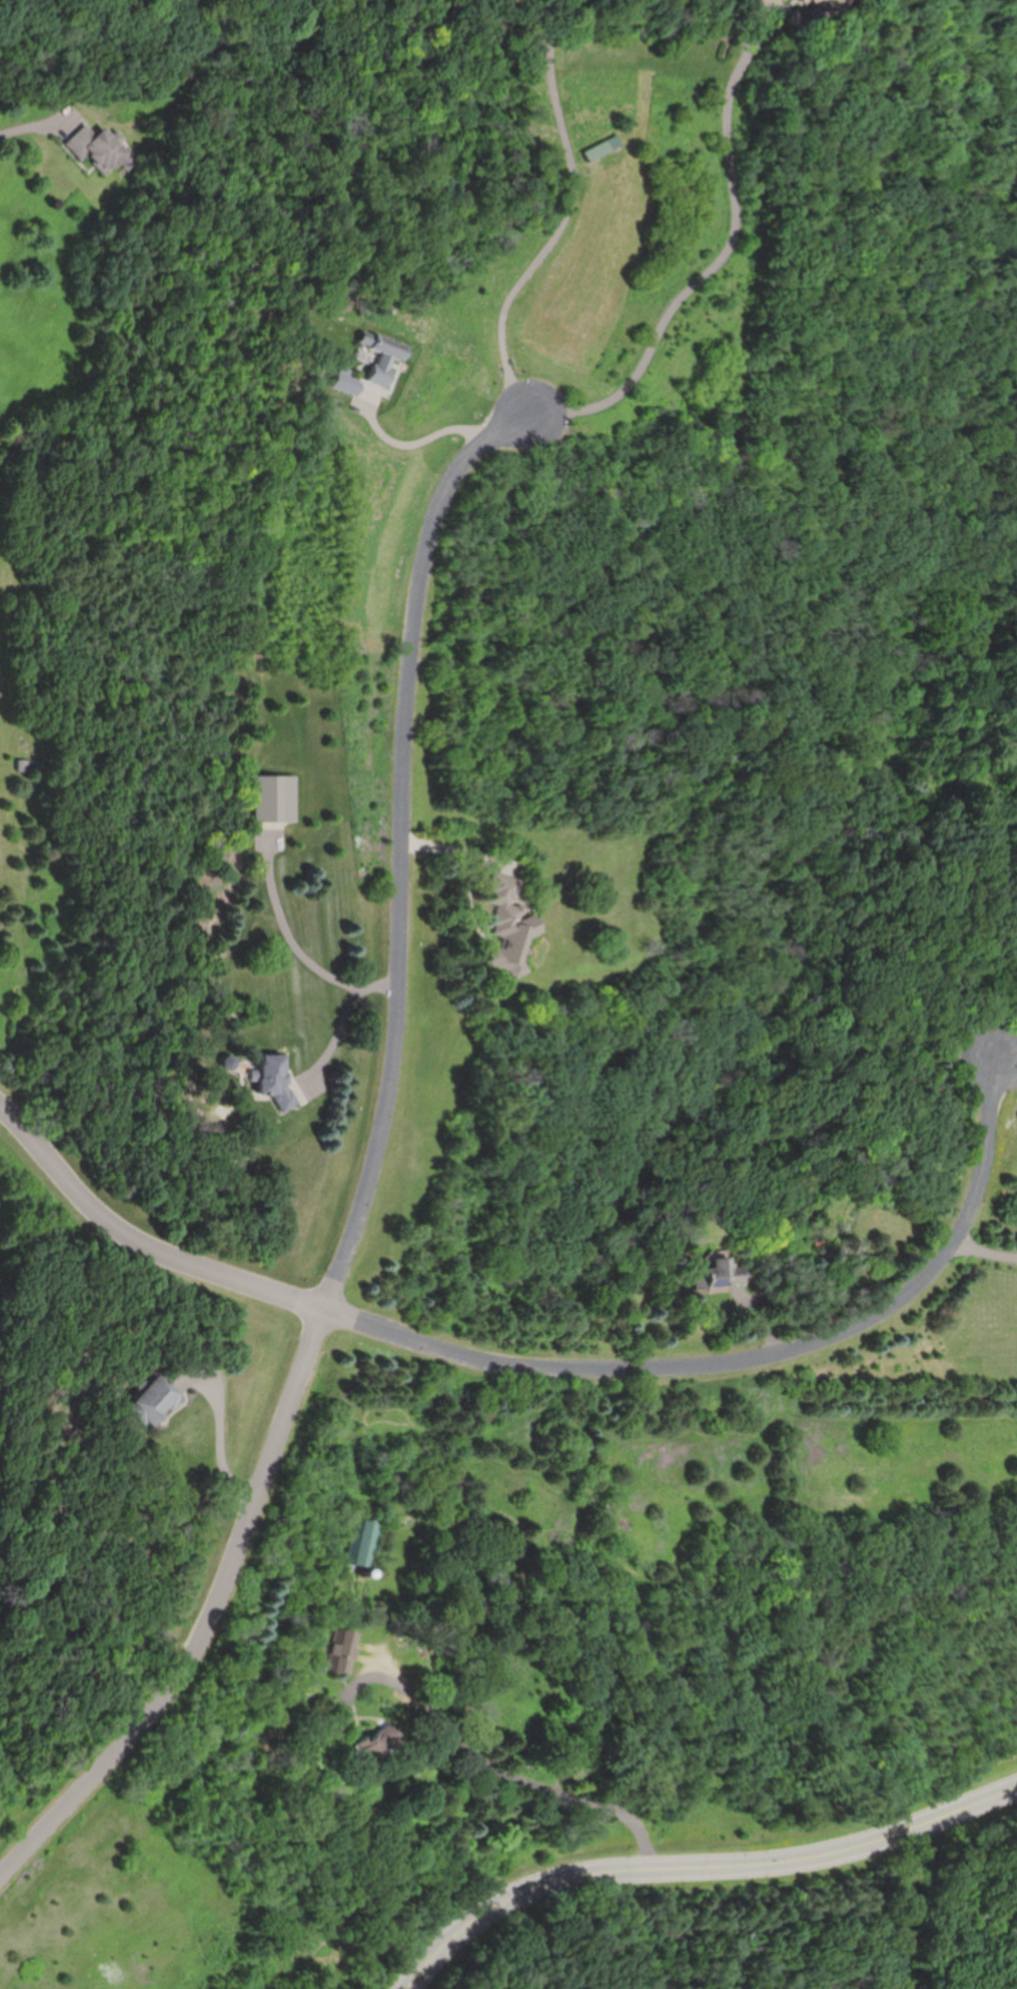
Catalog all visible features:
building: (763, 0)
building: (823, 3)
road: (39, 126)
building: (99, 150)
building: (595, 150)
road: (570, 217)
road: (720, 271)
building: (380, 356)
road: (423, 439)
building: (26, 765)
building: (505, 925)
building: (262, 929)
road: (297, 937)
road: (343, 1033)
building: (269, 1078)
road: (1005, 1085)
road: (374, 1178)
road: (980, 1255)
building: (714, 1273)
road: (552, 1369)
building: (145, 1398)
road: (223, 1444)
building: (362, 1544)
building: (475, 1599)
building: (341, 1651)
road: (538, 1782)
road: (698, 1861)

